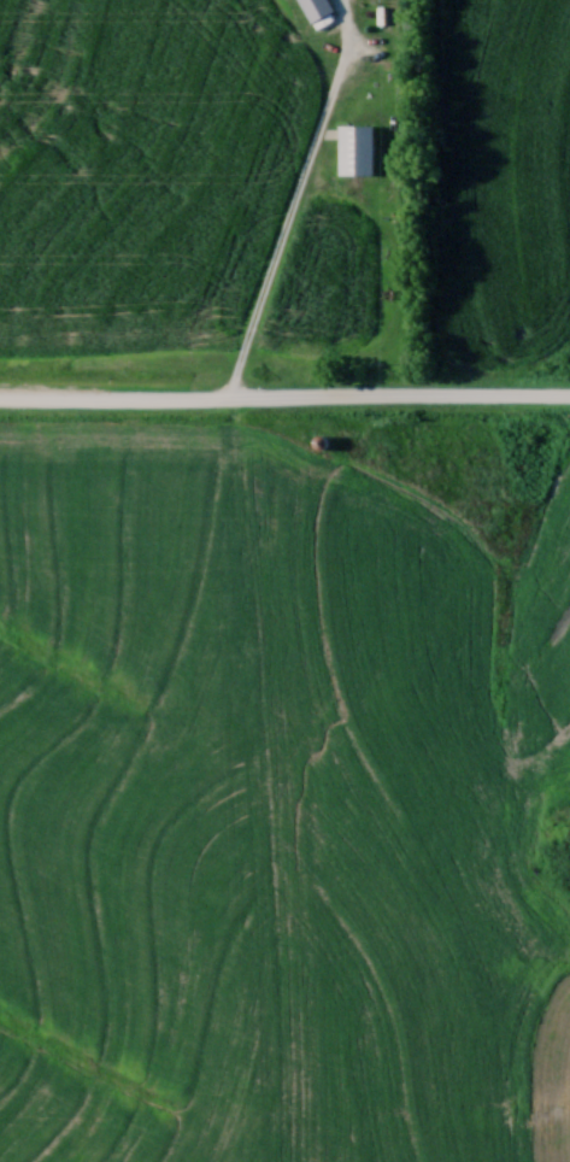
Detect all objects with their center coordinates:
building: (357, 149)
road: (299, 200)
road: (284, 400)
building: (322, 440)

